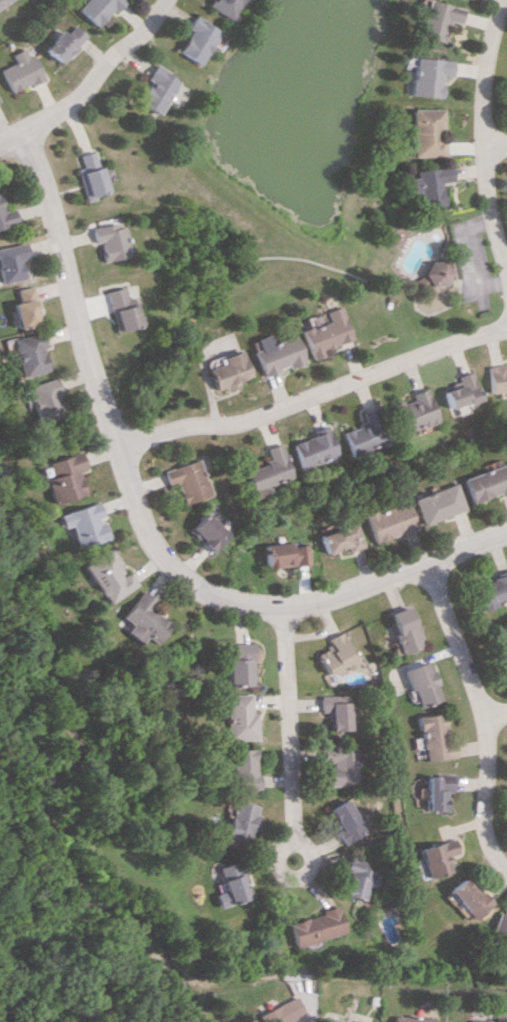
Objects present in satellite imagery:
building: (1, 1)
building: (221, 7)
building: (94, 10)
building: (435, 19)
building: (194, 40)
building: (60, 43)
building: (17, 70)
road: (482, 70)
road: (94, 72)
building: (427, 76)
building: (154, 90)
building: (425, 132)
road: (7, 133)
road: (494, 141)
building: (87, 175)
building: (426, 185)
road: (491, 215)
building: (5, 217)
building: (108, 241)
building: (9, 261)
building: (432, 272)
building: (20, 308)
building: (118, 309)
building: (325, 333)
building: (23, 353)
building: (275, 355)
building: (226, 371)
building: (496, 377)
building: (459, 391)
road: (311, 393)
building: (40, 400)
building: (410, 411)
building: (362, 433)
building: (311, 448)
building: (265, 472)
building: (61, 477)
building: (184, 480)
building: (486, 483)
building: (440, 503)
building: (390, 521)
road: (136, 523)
building: (81, 524)
building: (204, 532)
building: (342, 538)
building: (285, 554)
building: (105, 575)
building: (492, 591)
building: (141, 619)
building: (406, 629)
road: (458, 640)
building: (336, 654)
building: (504, 654)
building: (238, 664)
building: (423, 684)
building: (335, 711)
building: (238, 717)
road: (286, 732)
building: (434, 737)
building: (339, 764)
building: (241, 770)
road: (485, 785)
building: (436, 791)
building: (239, 820)
building: (345, 821)
building: (435, 857)
building: (356, 881)
building: (229, 884)
building: (468, 899)
building: (314, 926)
building: (499, 930)
building: (281, 1011)
building: (497, 1015)
building: (337, 1018)
building: (412, 1019)

